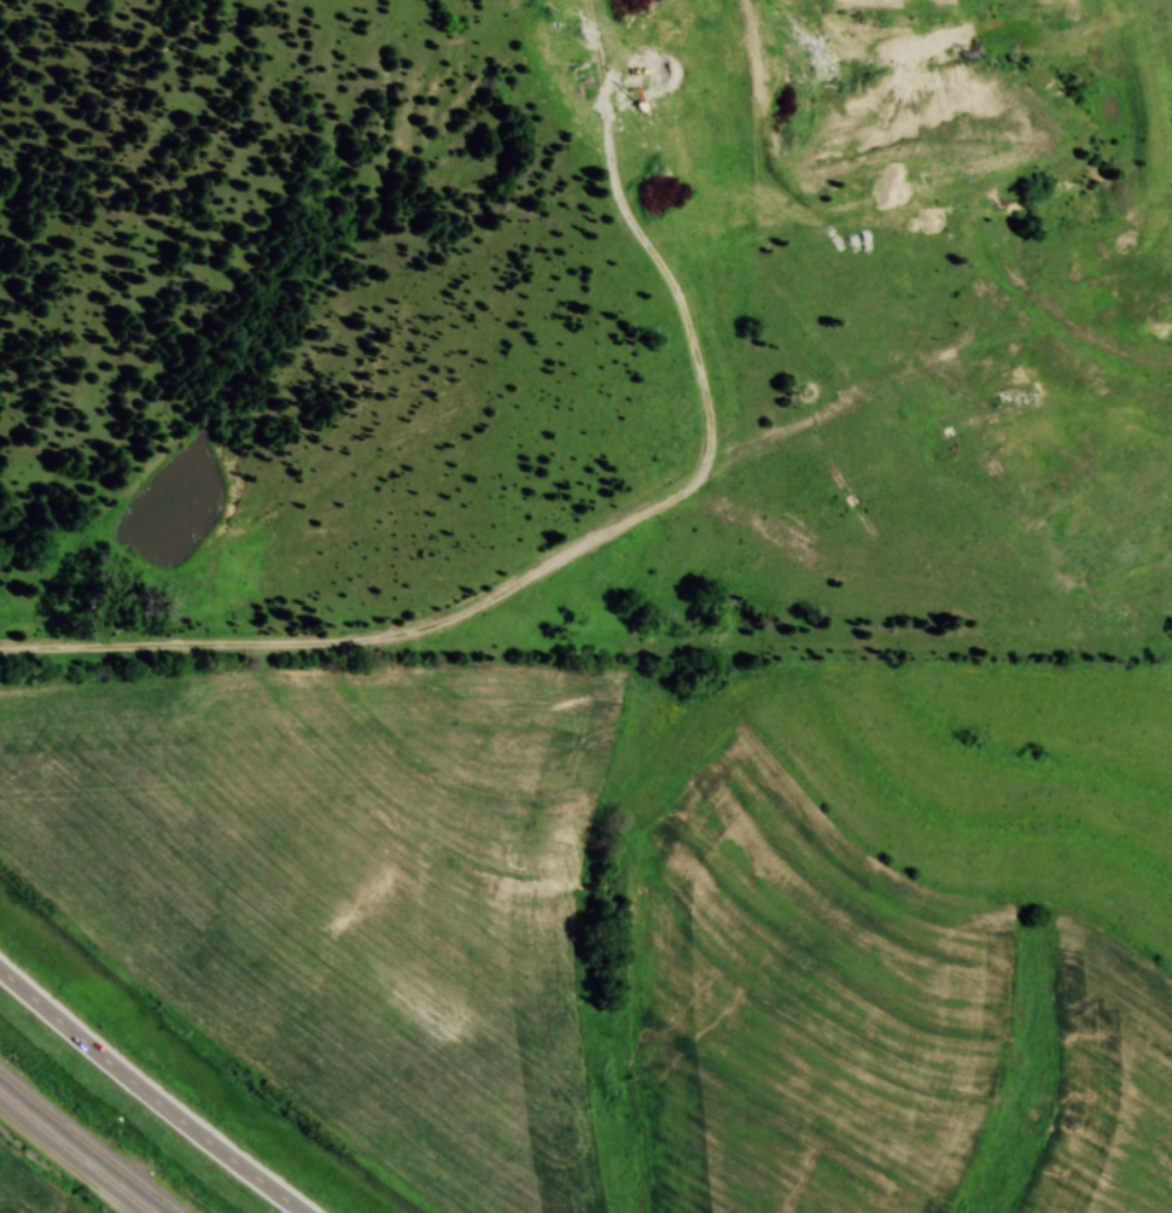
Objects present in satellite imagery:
road: (146, 1097)
railway: (88, 1142)
railway: (76, 1153)

